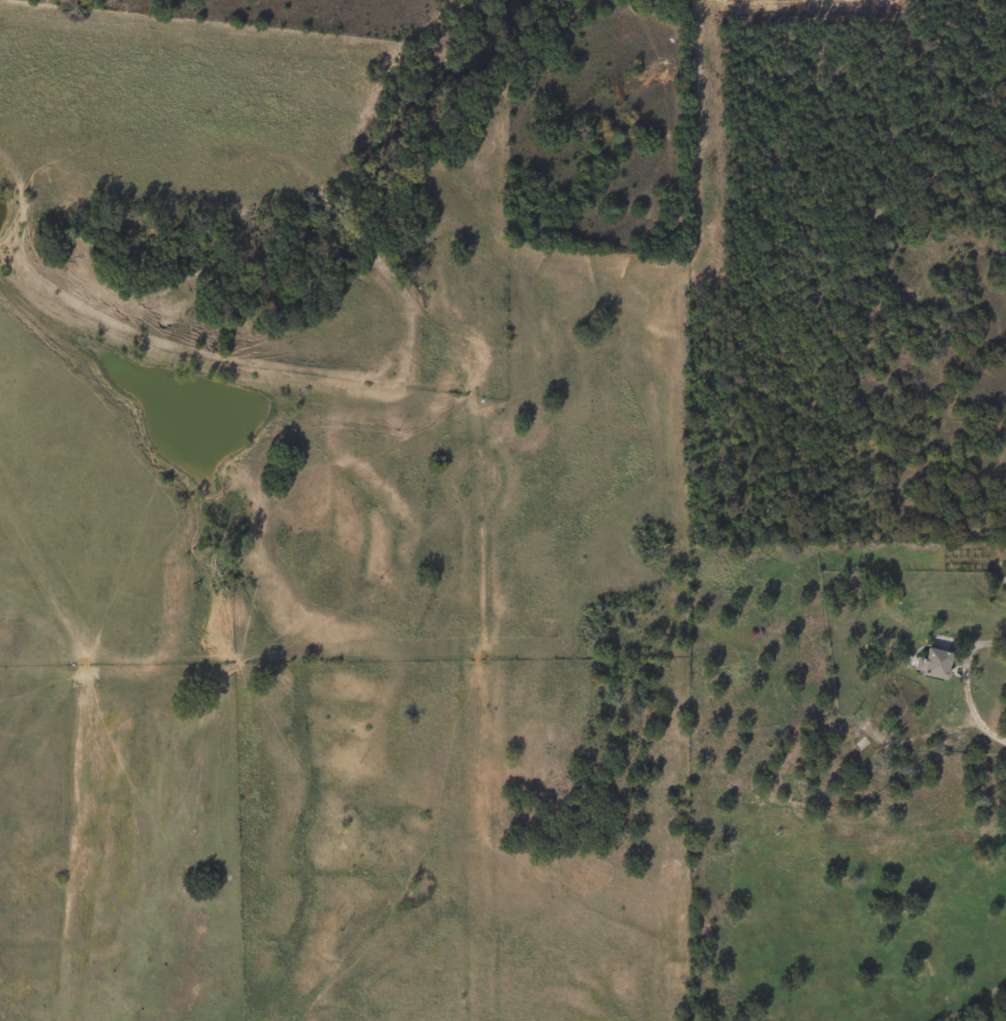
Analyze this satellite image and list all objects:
building: (1005, 585)
road: (978, 643)
building: (929, 663)
road: (974, 710)
building: (839, 741)

